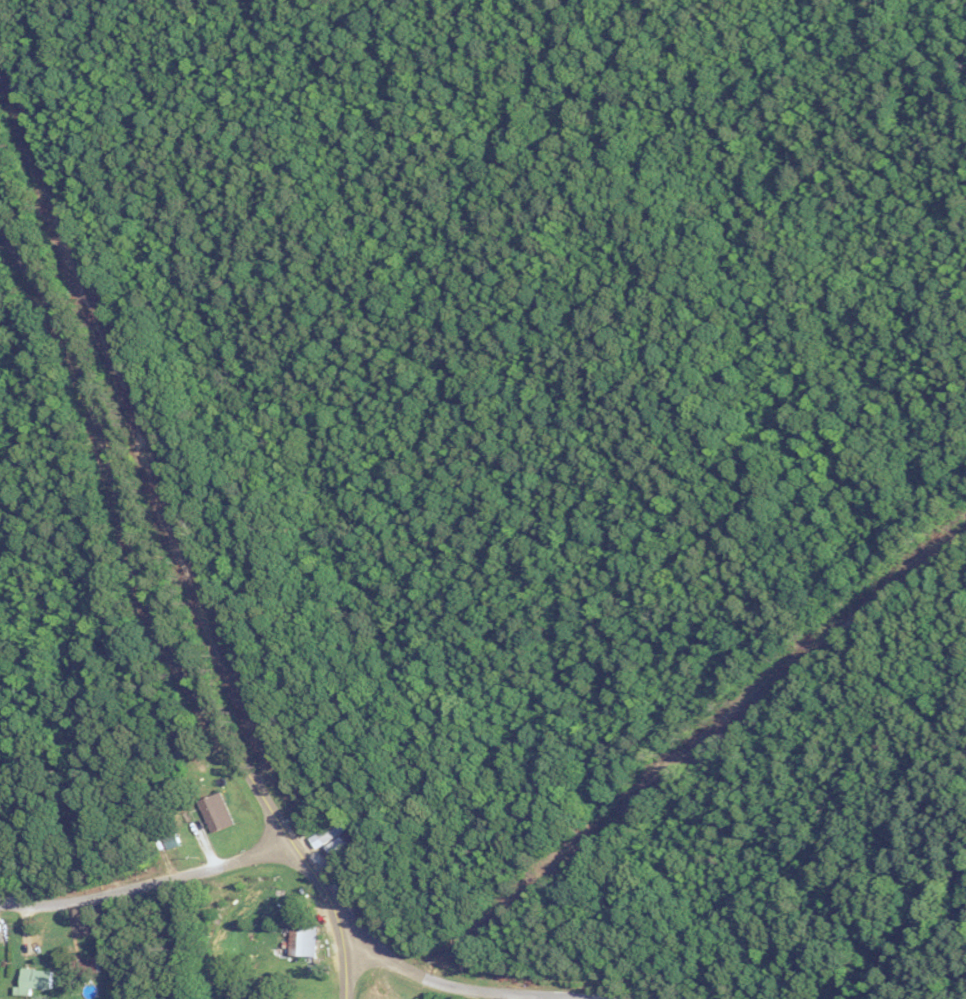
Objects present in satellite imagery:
road: (156, 624)
building: (215, 811)
building: (329, 831)
building: (338, 849)
road: (145, 884)
building: (303, 940)
building: (0, 966)
building: (84, 966)
building: (33, 979)
road: (452, 984)

